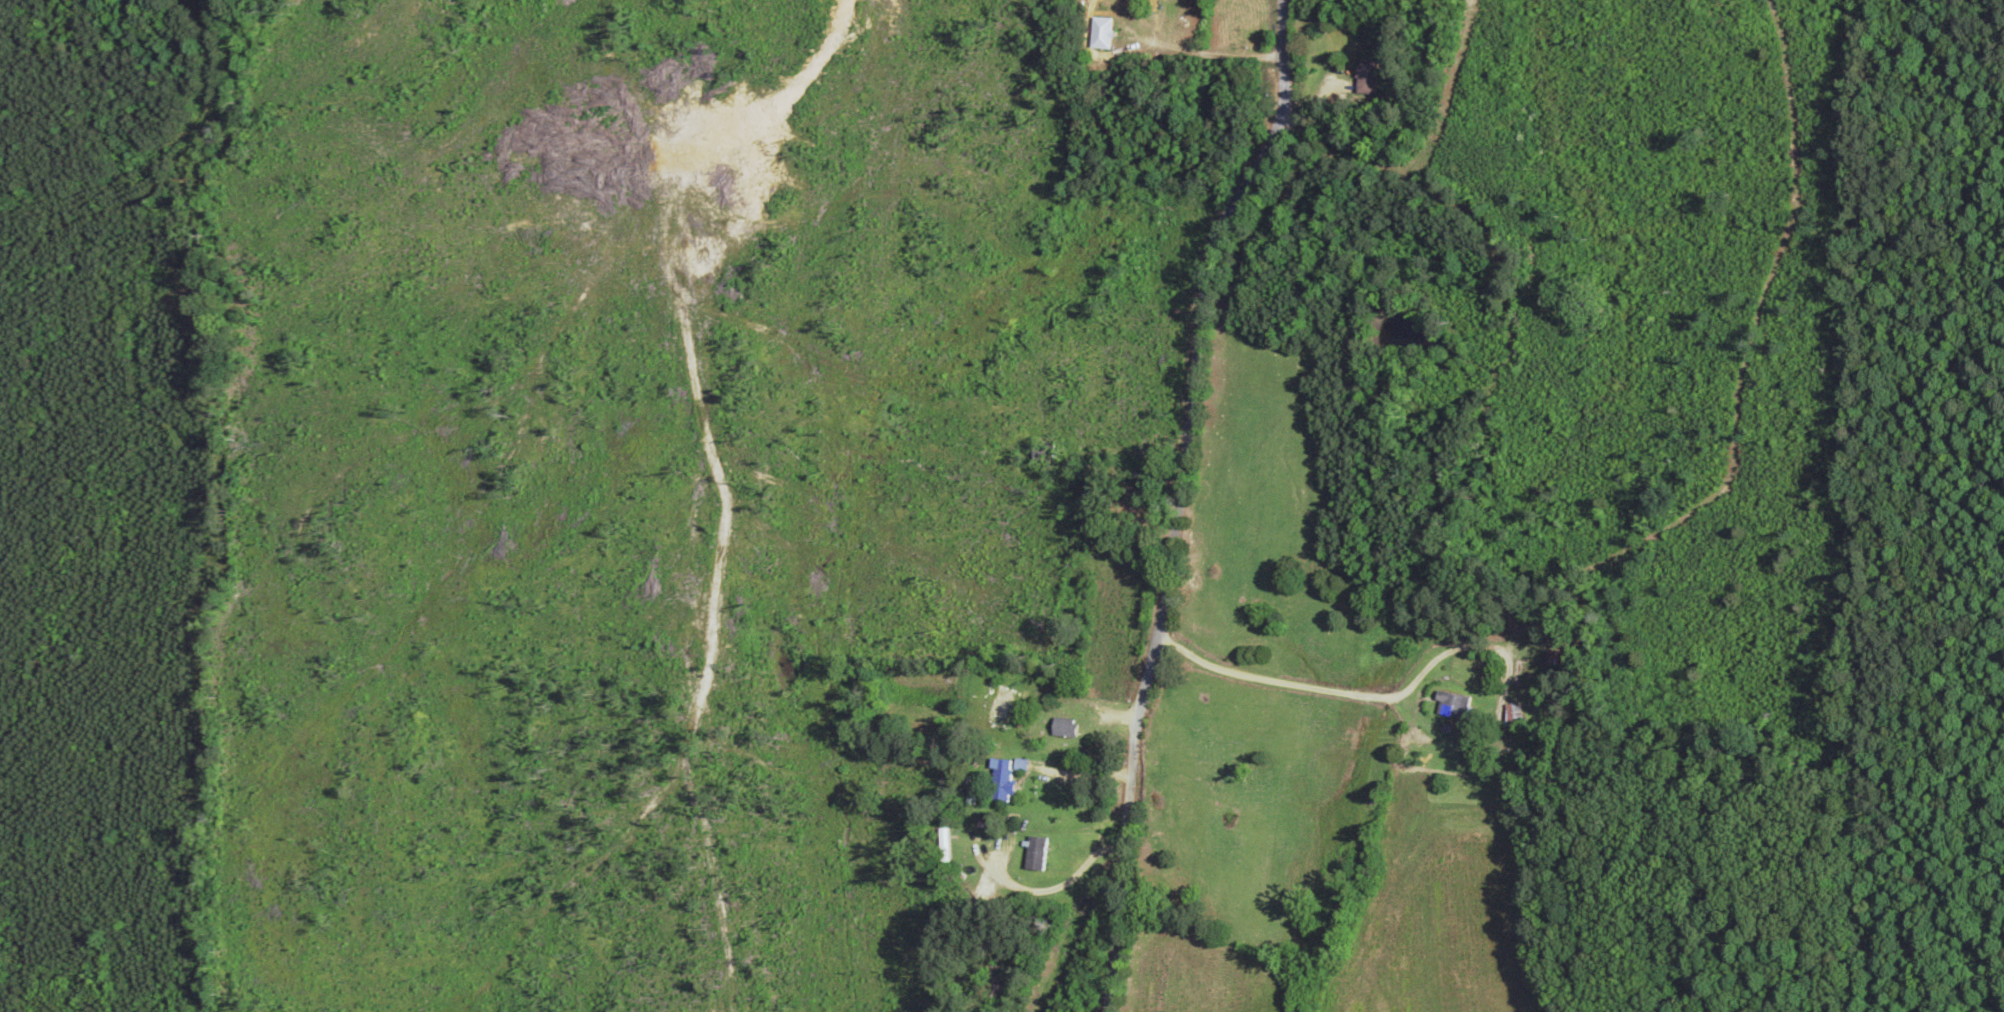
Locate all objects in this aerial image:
building: (1098, 34)
building: (1365, 78)
road: (1172, 499)
road: (568, 543)
building: (1549, 666)
building: (997, 705)
building: (1450, 706)
building: (1061, 728)
building: (999, 785)
building: (1034, 854)

